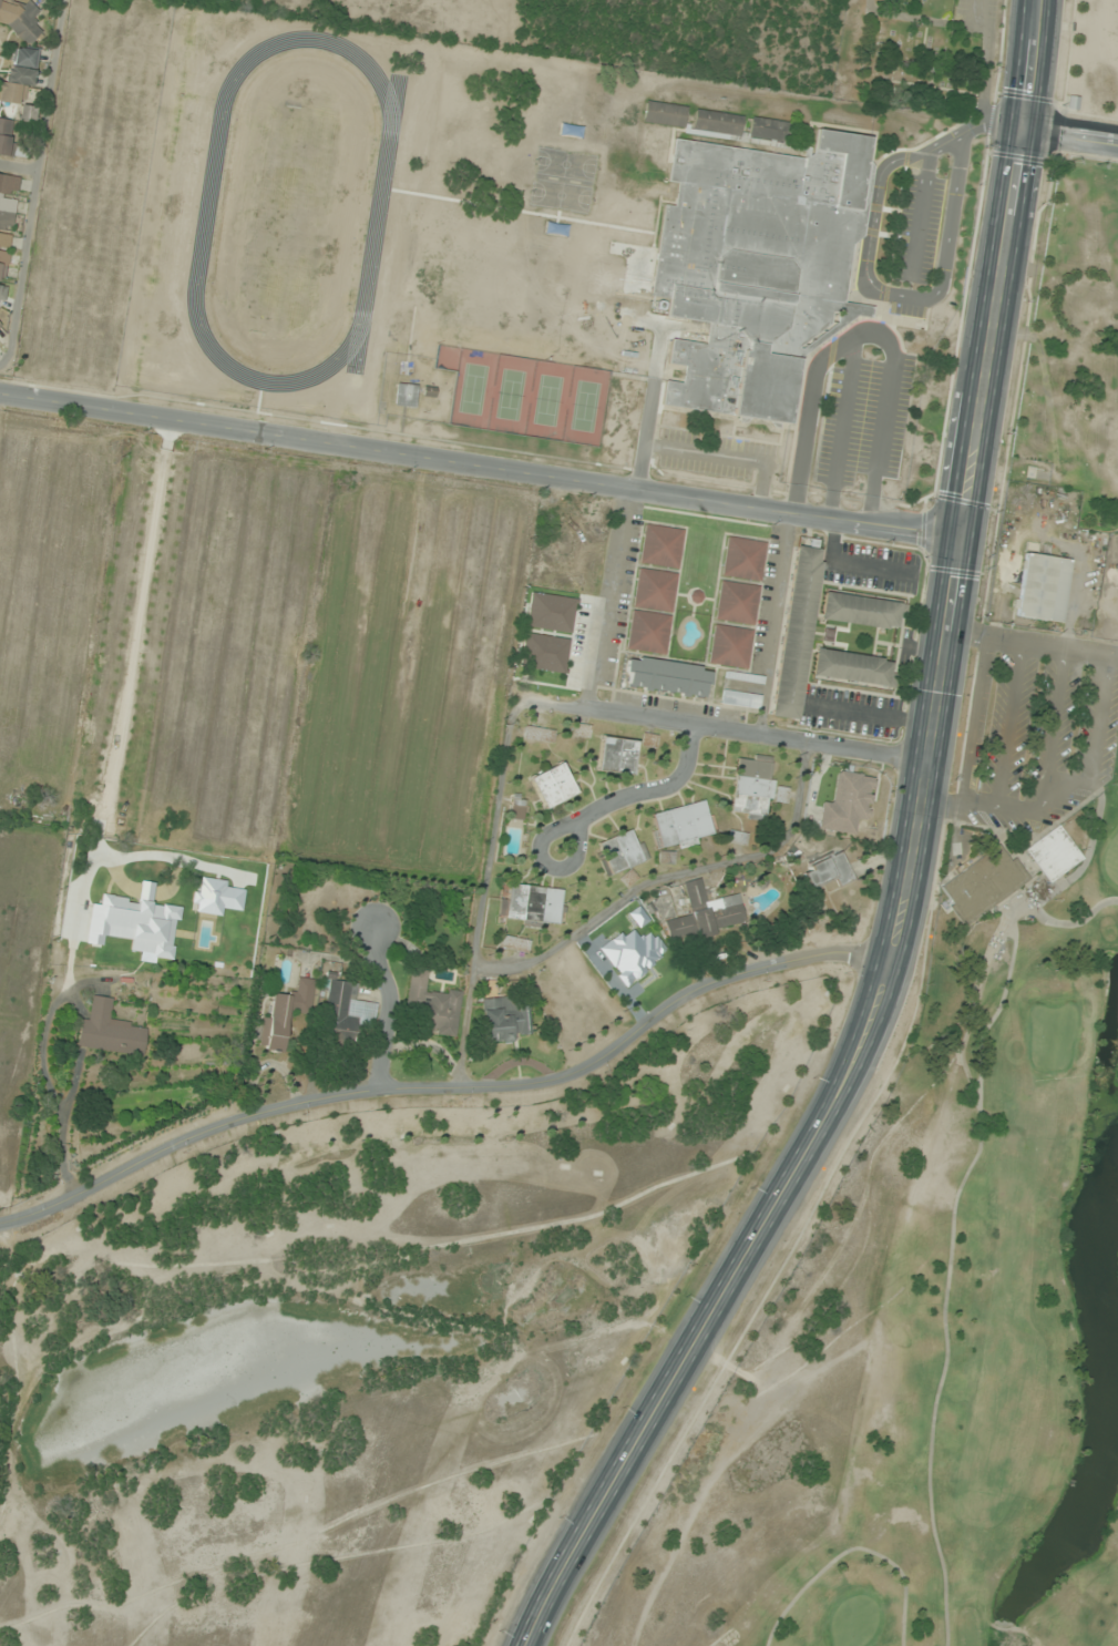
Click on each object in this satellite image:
road: (982, 12)
building: (18, 14)
parking lot: (975, 14)
park: (905, 58)
road: (1028, 67)
building: (19, 82)
building: (664, 114)
building: (716, 124)
road: (973, 127)
building: (767, 130)
traffic signals: (1024, 134)
road: (1070, 140)
building: (9, 142)
road: (919, 213)
building: (6, 223)
building: (758, 267)
road: (900, 295)
road: (866, 330)
park: (1076, 330)
road: (657, 362)
building: (404, 395)
road: (841, 428)
road: (725, 456)
road: (483, 464)
traffic signals: (966, 538)
building: (660, 546)
building: (742, 559)
building: (1040, 587)
road: (607, 597)
building: (736, 603)
building: (650, 611)
building: (861, 611)
building: (796, 633)
building: (729, 646)
road: (1111, 654)
building: (850, 667)
building: (666, 677)
building: (739, 699)
road: (1011, 706)
road: (1096, 716)
road: (1054, 728)
road: (727, 729)
building: (581, 730)
building: (536, 734)
road: (970, 742)
building: (615, 755)
building: (551, 785)
building: (750, 785)
road: (642, 796)
building: (845, 804)
building: (515, 812)
building: (679, 825)
building: (735, 837)
building: (107, 840)
building: (619, 851)
building: (1052, 853)
building: (825, 870)
building: (981, 885)
building: (531, 904)
building: (702, 914)
road: (895, 930)
building: (512, 943)
road: (383, 1005)
building: (431, 1005)
building: (343, 1011)
building: (285, 1013)
building: (503, 1020)
building: (107, 1031)
road: (448, 1086)
park: (956, 1216)
park: (366, 1348)

